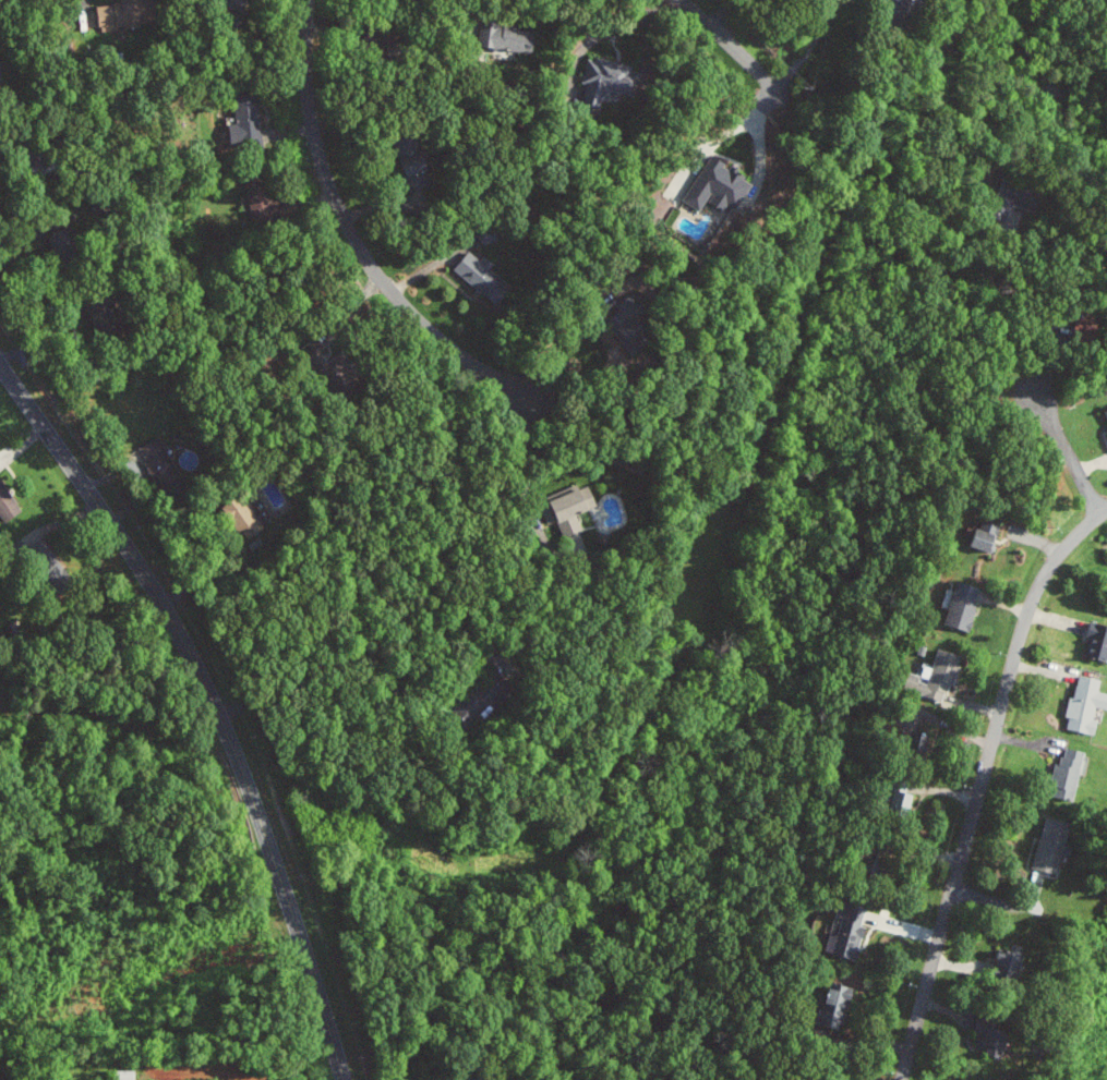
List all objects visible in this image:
building: (906, 1)
road: (86, 4)
building: (127, 13)
road: (600, 36)
building: (514, 37)
road: (749, 45)
road: (821, 45)
building: (609, 80)
road: (751, 118)
building: (246, 121)
building: (428, 167)
building: (721, 186)
building: (1019, 195)
building: (263, 205)
road: (36, 235)
road: (357, 239)
road: (1021, 265)
building: (486, 277)
road: (1071, 447)
building: (157, 458)
building: (8, 503)
building: (576, 508)
building: (987, 536)
building: (963, 607)
building: (1098, 641)
road: (363, 651)
building: (939, 677)
building: (1086, 705)
road: (212, 706)
building: (1071, 772)
road: (985, 787)
building: (905, 800)
building: (1054, 844)
building: (849, 930)
building: (1014, 961)
building: (840, 1002)
building: (992, 1035)
building: (483, 1077)
building: (827, 1077)
building: (964, 1079)

